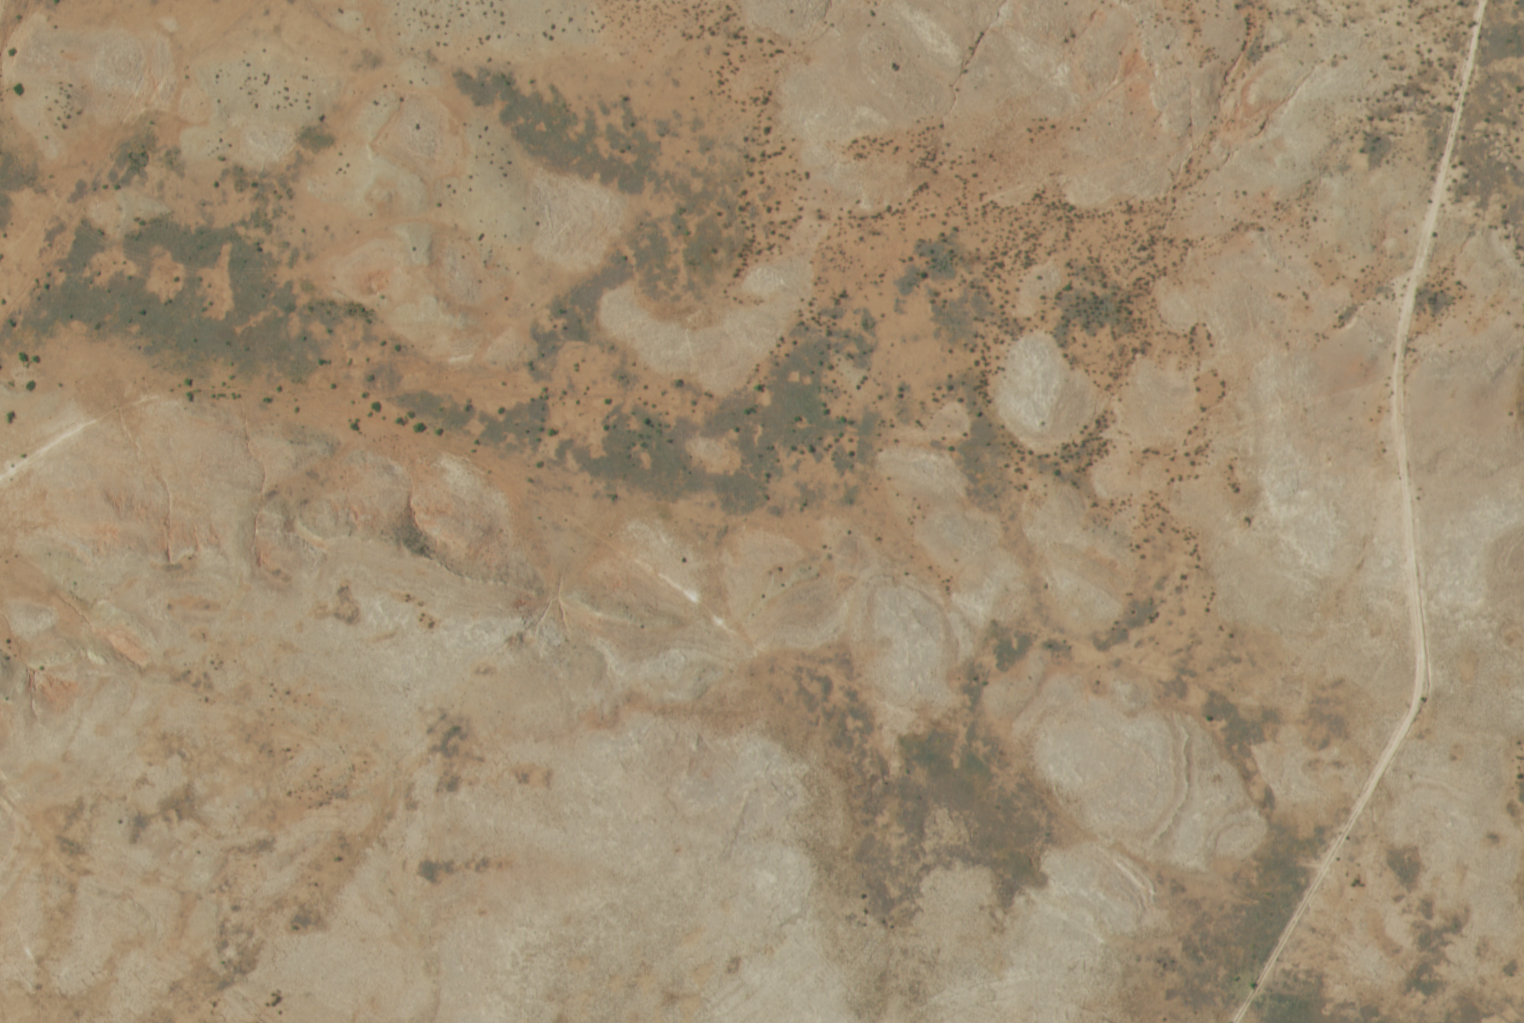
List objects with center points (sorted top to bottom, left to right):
road: (1416, 533)

